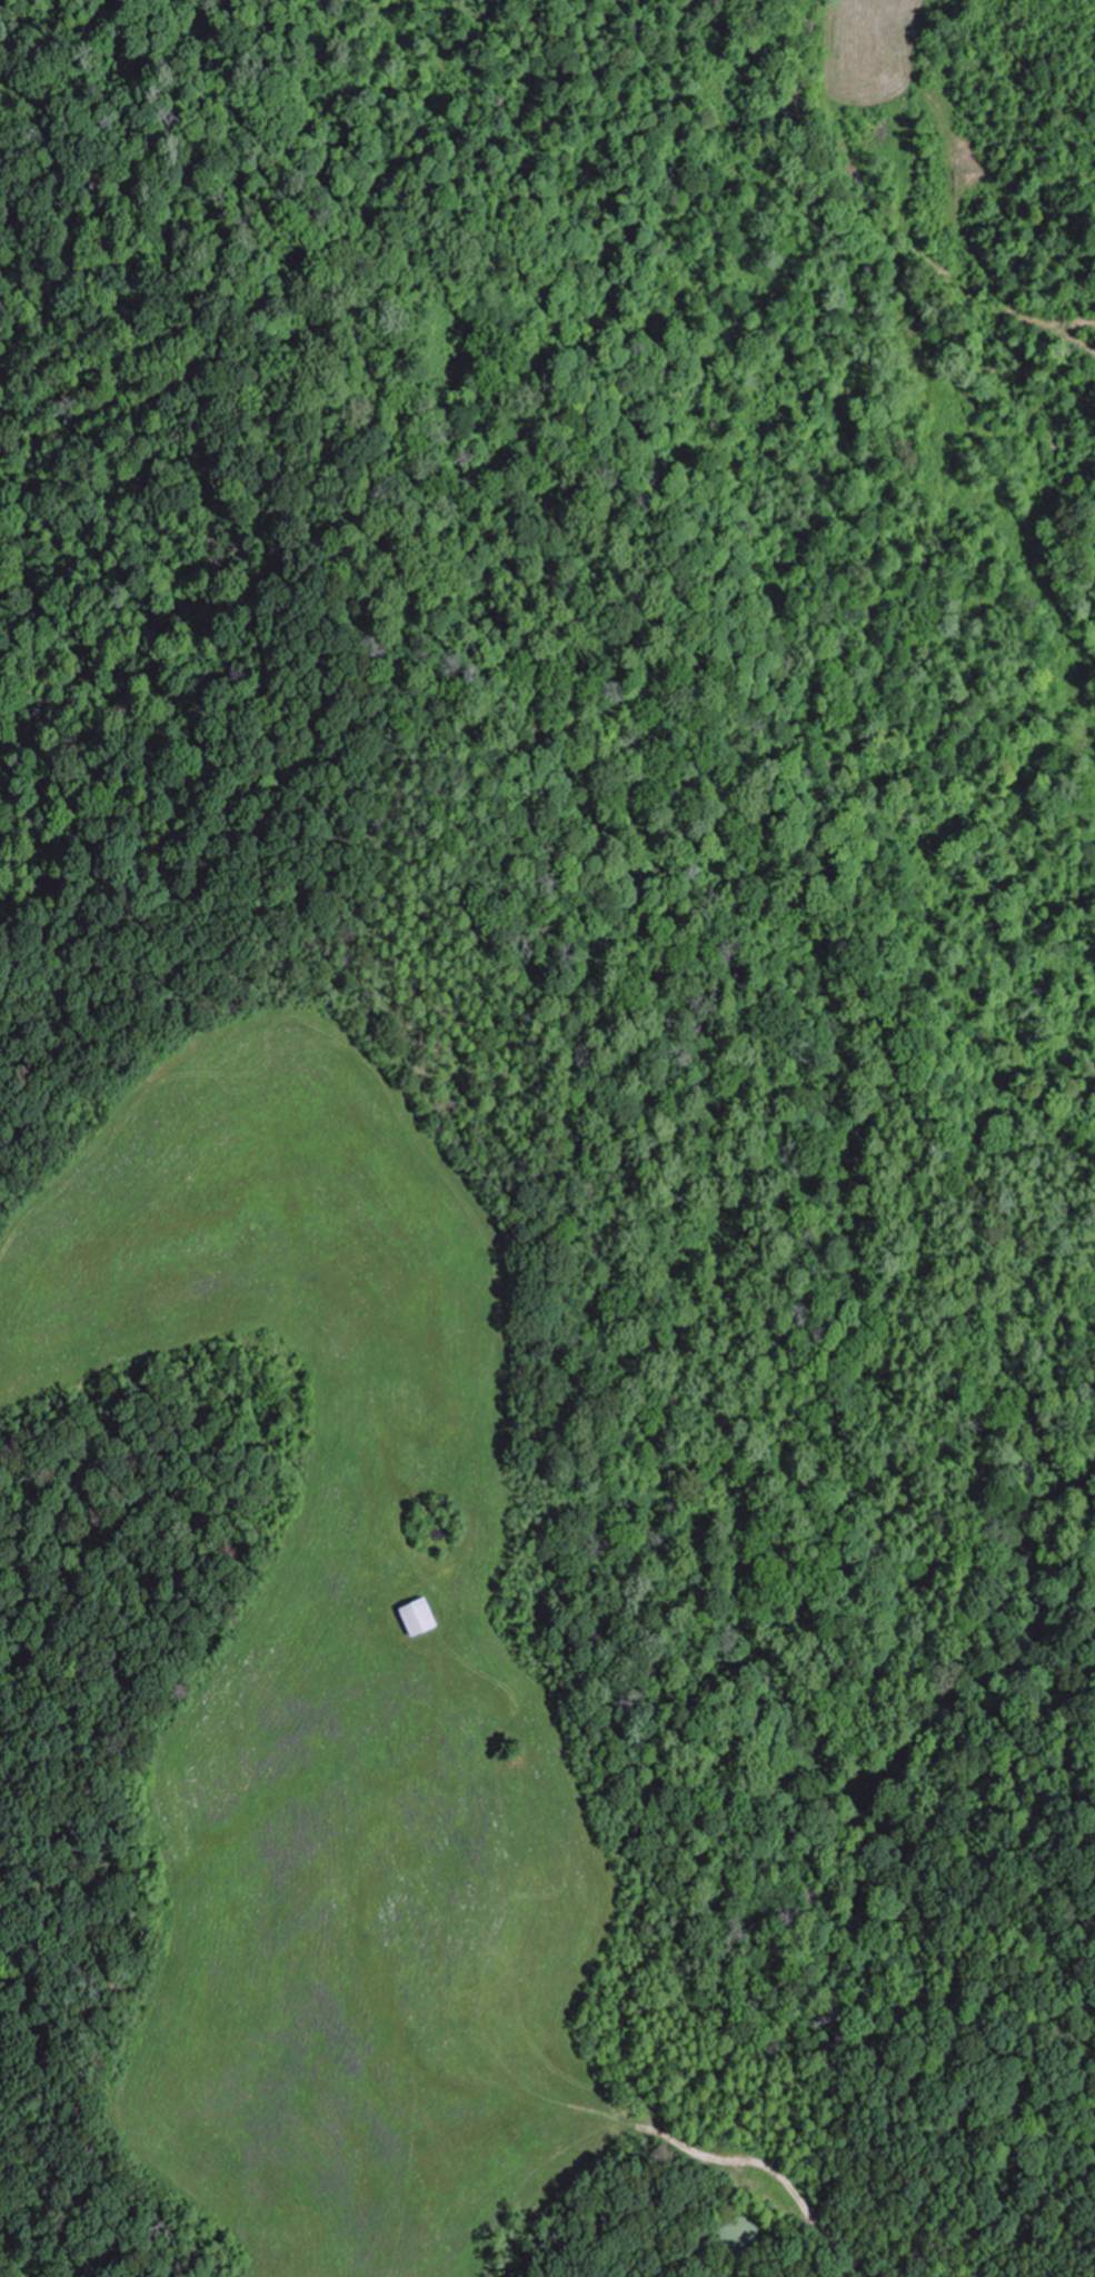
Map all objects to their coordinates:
building: (415, 1618)

